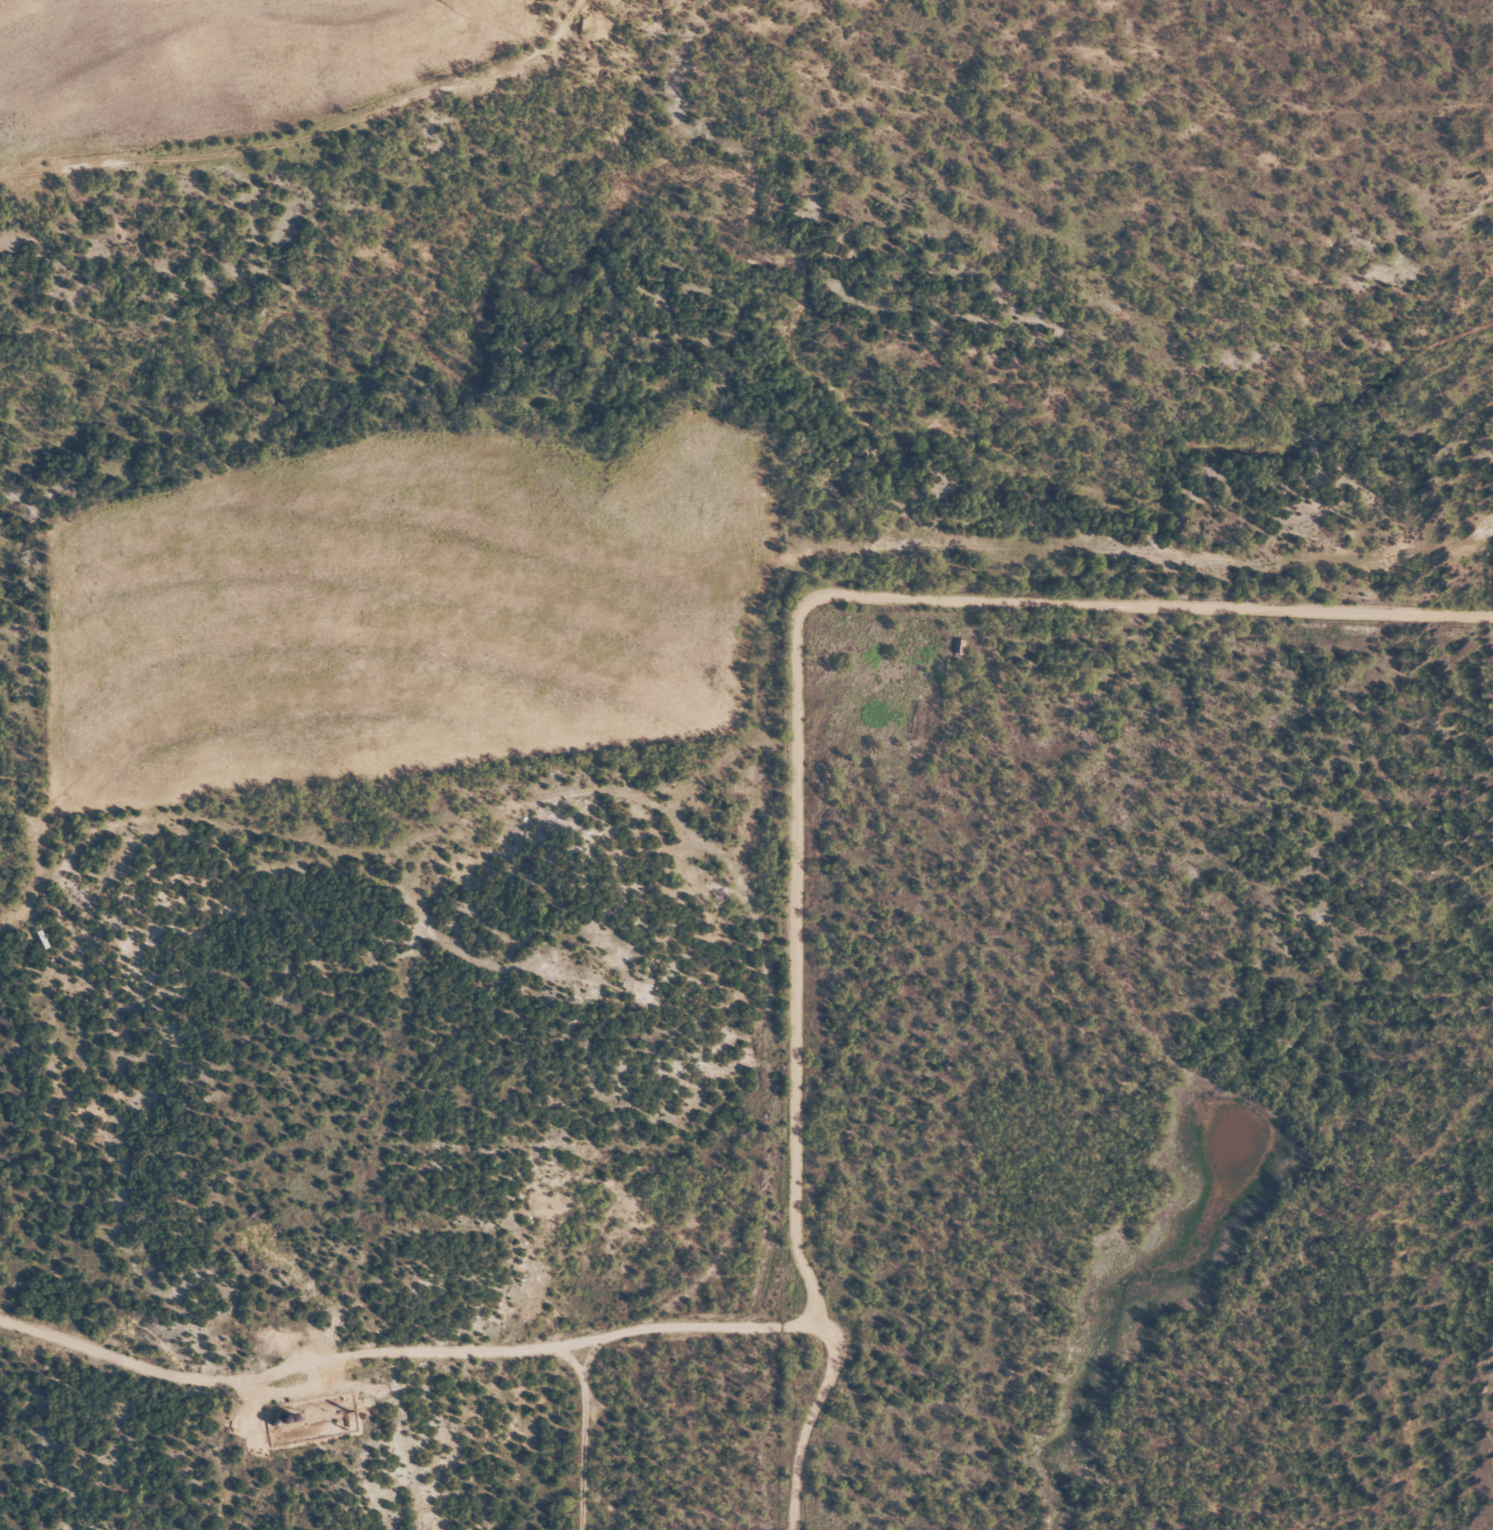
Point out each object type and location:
road: (362, 208)
road: (753, 807)
road: (1416, 1308)
road: (599, 1343)

